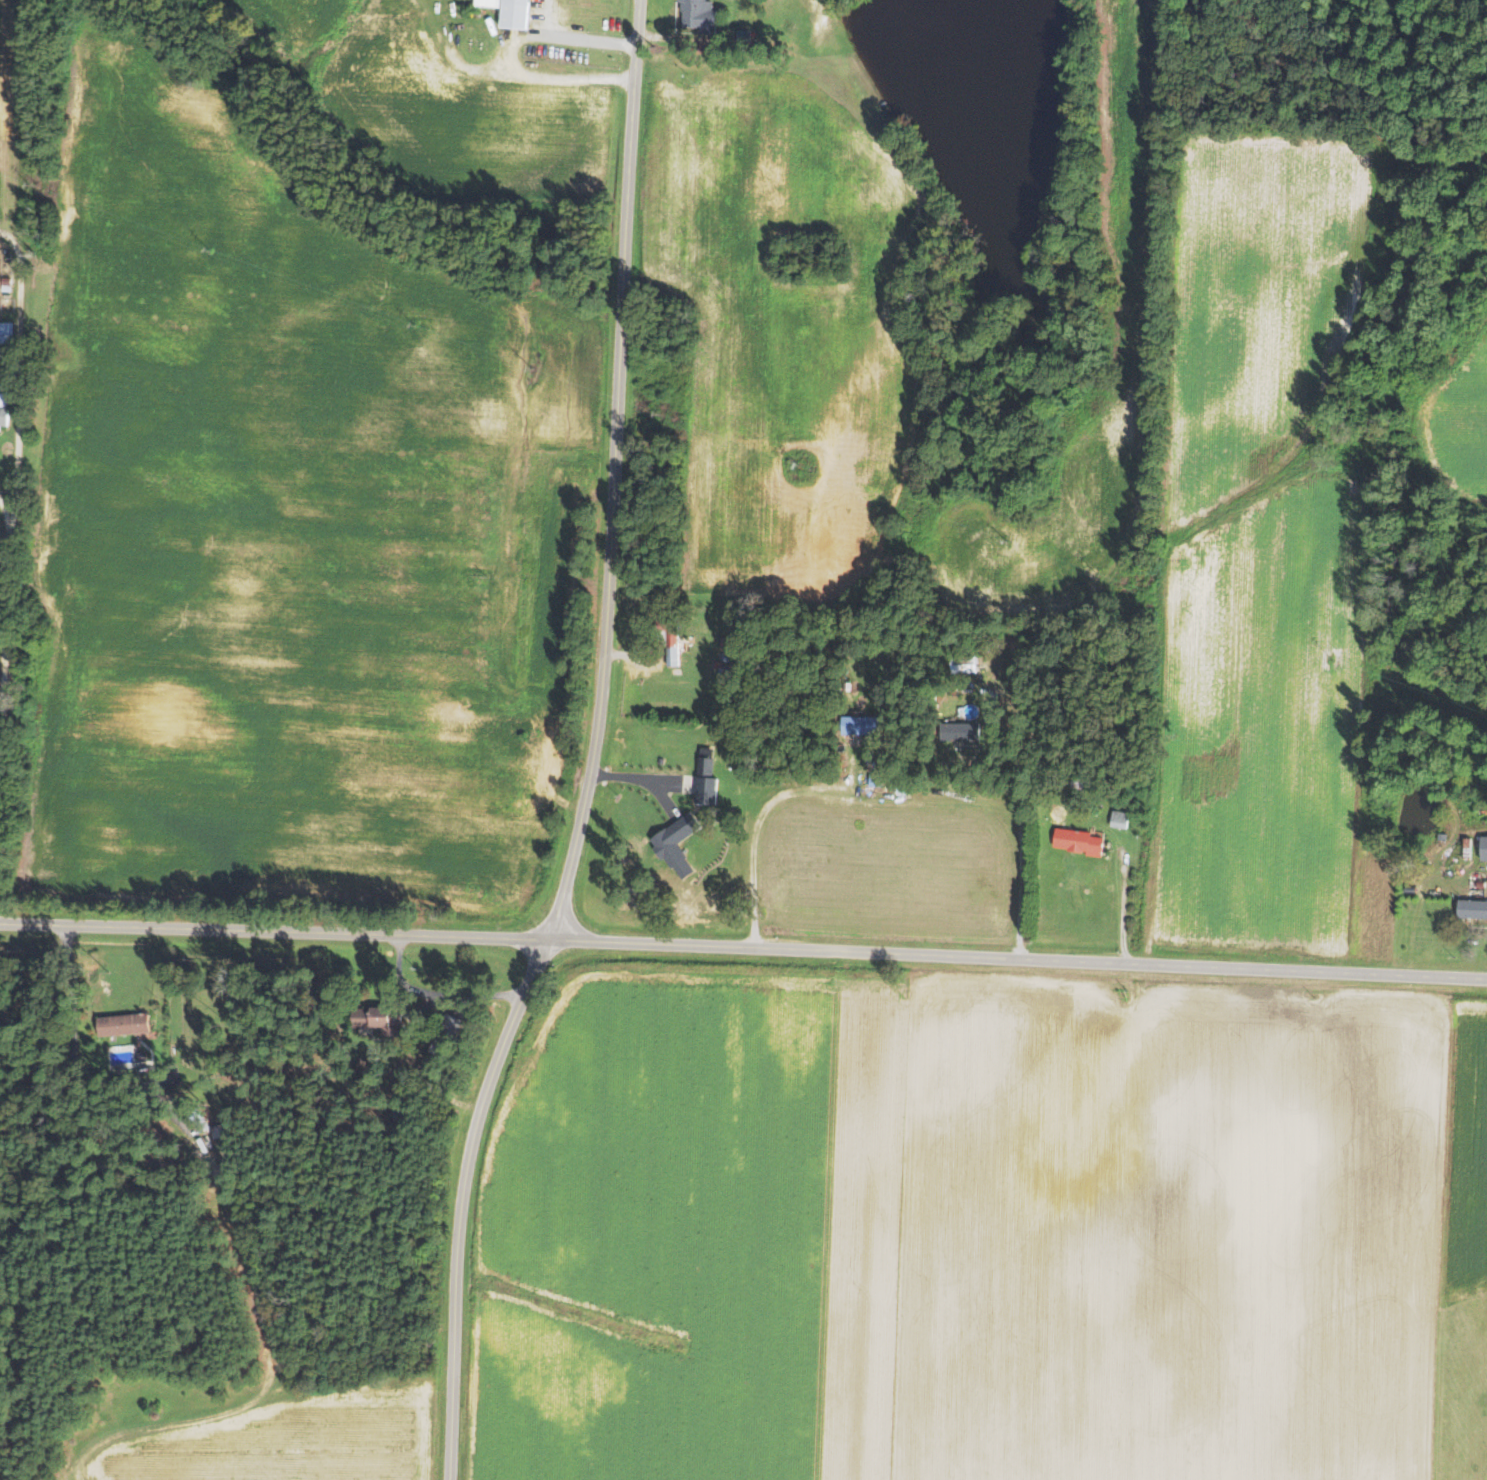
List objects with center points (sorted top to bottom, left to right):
building: (513, 12)
building: (701, 16)
road: (508, 53)
road: (20, 290)
building: (5, 410)
road: (16, 436)
road: (5, 518)
road: (5, 635)
building: (728, 665)
building: (862, 727)
building: (967, 733)
road: (591, 749)
building: (709, 783)
road: (756, 819)
building: (1082, 841)
road: (1021, 844)
building: (1484, 848)
building: (1473, 908)
road: (743, 948)
building: (386, 1022)
building: (126, 1025)
crop: (974, 1231)

